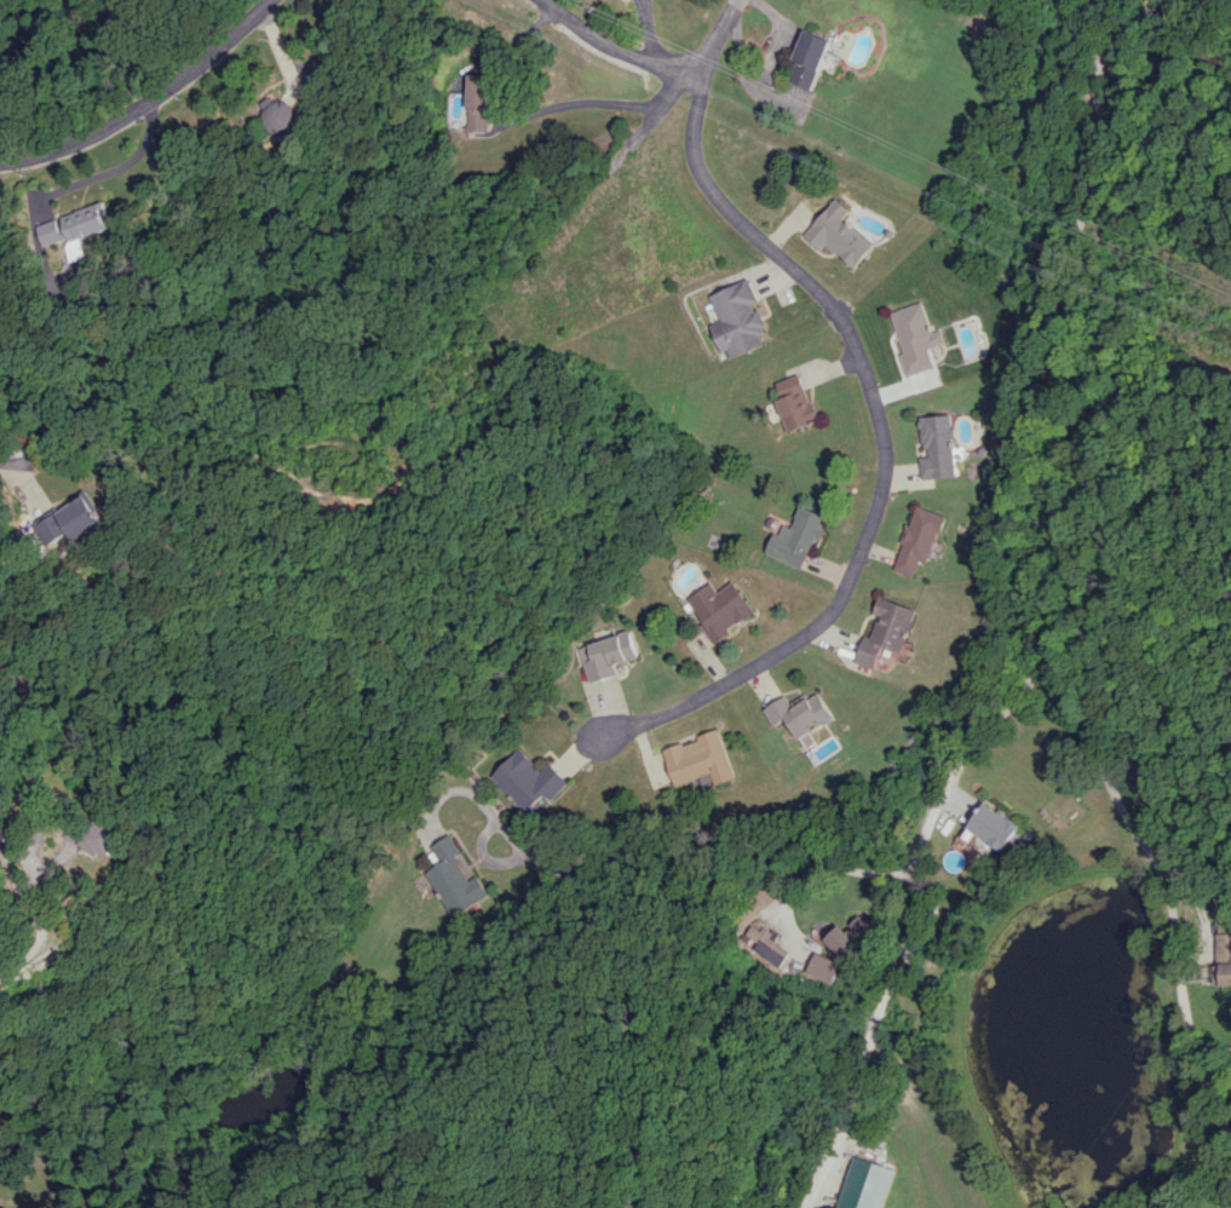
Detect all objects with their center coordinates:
road: (723, 31)
road: (621, 46)
building: (811, 58)
road: (146, 102)
building: (484, 103)
road: (617, 104)
building: (280, 113)
road: (116, 168)
building: (80, 226)
building: (841, 234)
building: (740, 318)
building: (918, 338)
building: (795, 402)
road: (886, 441)
building: (939, 445)
road: (17, 462)
building: (73, 520)
building: (799, 537)
building: (921, 540)
building: (720, 608)
road: (1028, 616)
building: (887, 629)
building: (604, 656)
building: (800, 713)
building: (700, 759)
building: (529, 782)
building: (991, 827)
road: (770, 835)
building: (108, 838)
road: (844, 865)
building: (454, 878)
road: (1160, 890)
road: (1189, 903)
road: (38, 919)
building: (851, 937)
building: (771, 948)
building: (1218, 953)
building: (823, 966)
building: (864, 1184)

